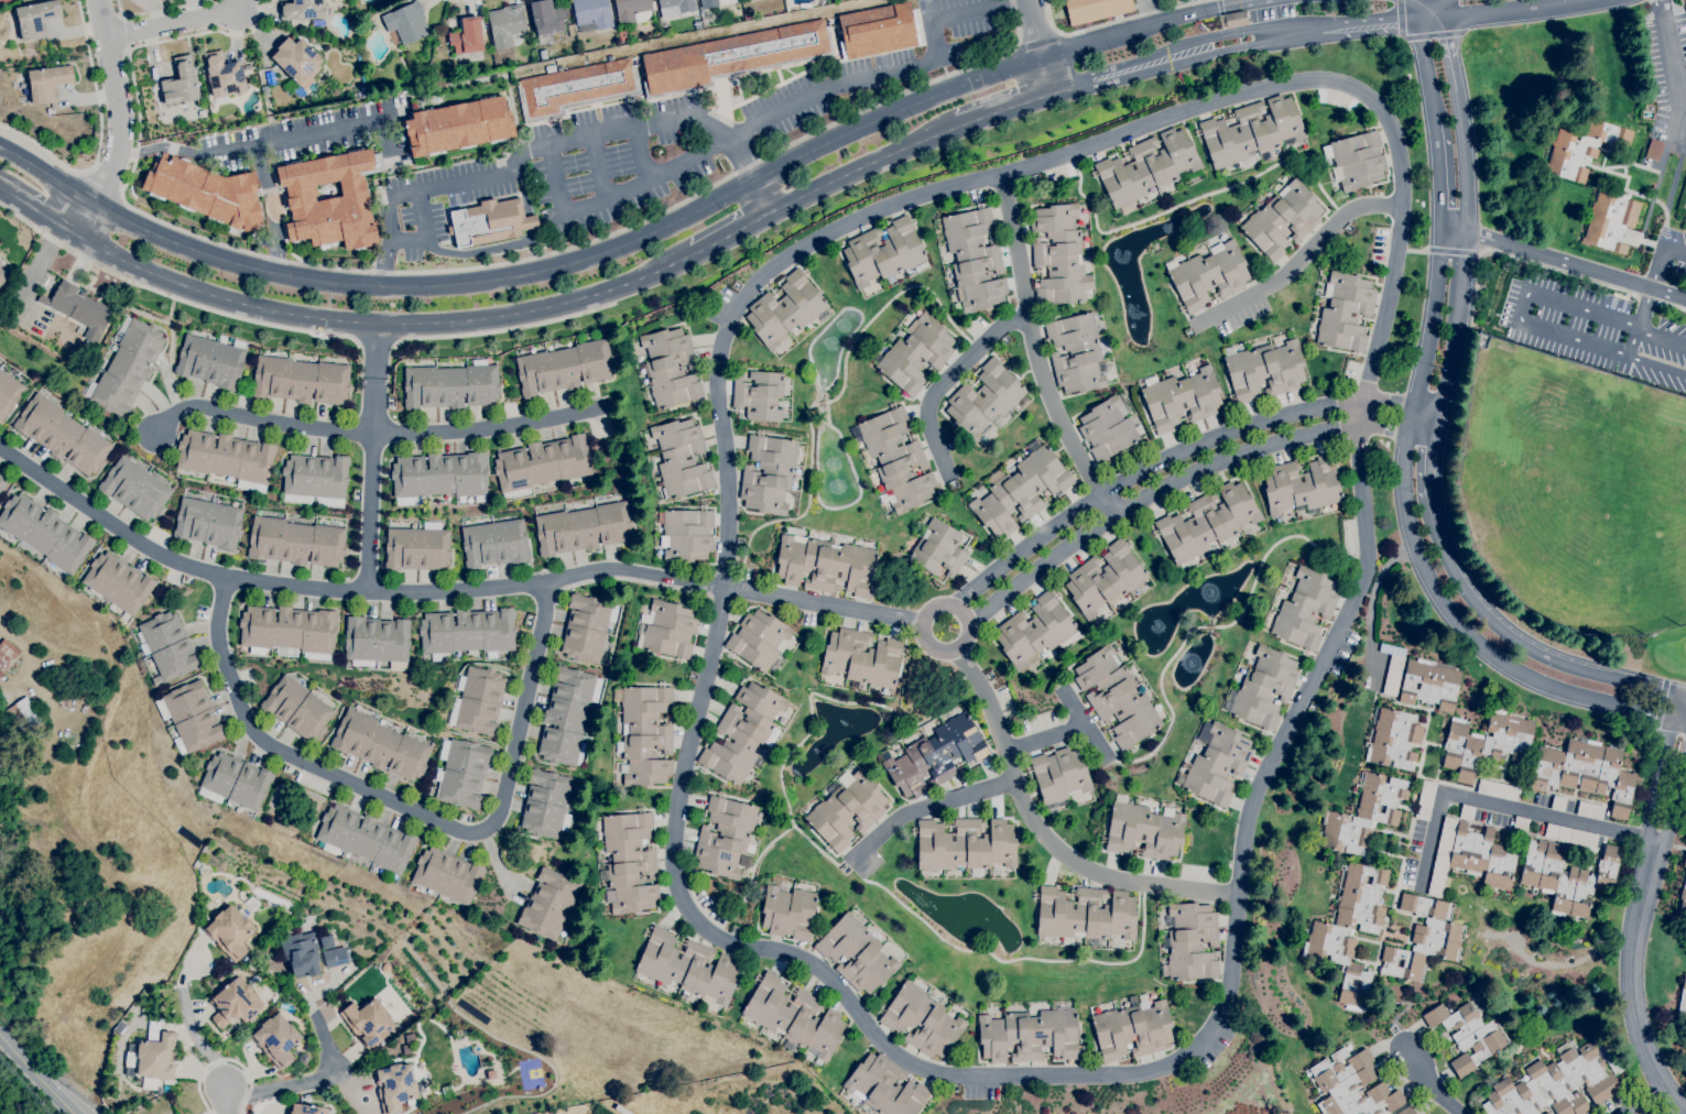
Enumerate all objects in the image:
road: (1652, 0)
building: (715, 2)
road: (1255, 3)
road: (1204, 6)
building: (675, 7)
road: (1440, 7)
building: (302, 9)
building: (1095, 9)
road: (156, 10)
building: (632, 11)
road: (1149, 12)
building: (591, 14)
road: (1418, 14)
building: (357, 15)
building: (36, 18)
building: (546, 20)
building: (1232, 20)
building: (709, 21)
building: (406, 22)
road: (172, 24)
building: (505, 24)
building: (697, 24)
road: (1098, 26)
building: (569, 30)
building: (878, 30)
road: (1034, 30)
road: (1139, 30)
building: (623, 34)
building: (467, 36)
road: (1038, 37)
building: (440, 40)
road: (1668, 56)
building: (732, 57)
road: (1142, 58)
road: (1424, 58)
road: (1451, 58)
building: (296, 63)
road: (1014, 68)
road: (889, 73)
building: (224, 75)
building: (270, 77)
road: (1044, 77)
building: (362, 78)
building: (47, 81)
building: (181, 83)
building: (411, 83)
building: (576, 88)
building: (264, 90)
building: (334, 91)
building: (48, 110)
road: (1002, 110)
road: (120, 121)
building: (457, 125)
building: (1251, 131)
road: (99, 136)
road: (298, 140)
road: (555, 143)
road: (162, 148)
building: (1581, 149)
building: (1653, 150)
road: (641, 154)
building: (1356, 160)
building: (1146, 167)
road: (598, 168)
road: (863, 168)
road: (1436, 174)
road: (102, 184)
building: (207, 192)
road: (616, 194)
building: (330, 199)
road: (274, 209)
road: (39, 211)
building: (1282, 219)
building: (489, 221)
building: (1612, 221)
road: (425, 231)
road: (731, 233)
road: (1415, 249)
road: (1450, 251)
building: (882, 252)
road: (1674, 253)
road: (1505, 254)
building: (1059, 255)
building: (973, 259)
road: (84, 260)
road: (1299, 260)
road: (1562, 262)
road: (39, 266)
road: (1460, 267)
road: (450, 269)
road: (1655, 270)
building: (1209, 275)
building: (2, 276)
road: (499, 278)
road: (1586, 280)
flagpole: (87, 288)
road: (1476, 291)
road: (170, 295)
road: (1643, 298)
building: (42, 299)
road: (1671, 305)
road: (1520, 307)
building: (81, 309)
building: (784, 309)
road: (1643, 309)
building: (1345, 313)
road: (382, 324)
road: (504, 330)
road: (1662, 336)
road: (1633, 342)
road: (374, 343)
road: (374, 350)
road: (1037, 351)
building: (1076, 352)
building: (916, 354)
building: (211, 360)
road: (1657, 365)
building: (128, 367)
building: (564, 368)
building: (670, 368)
building: (1263, 370)
road: (946, 379)
building: (301, 380)
building: (452, 385)
building: (8, 393)
building: (759, 395)
building: (1182, 398)
building: (985, 402)
building: (1107, 428)
building: (62, 435)
road: (377, 436)
road: (1177, 454)
building: (227, 458)
building: (681, 458)
building: (894, 459)
building: (542, 463)
road: (1429, 463)
road: (725, 467)
building: (768, 473)
road: (1182, 474)
building: (439, 477)
building: (315, 479)
building: (2, 483)
road: (371, 484)
building: (1302, 484)
building: (543, 488)
building: (134, 489)
building: (1020, 490)
park: (1586, 499)
building: (1207, 522)
building: (208, 523)
building: (583, 528)
building: (44, 533)
building: (685, 534)
building: (295, 542)
building: (494, 543)
building: (417, 547)
building: (938, 549)
road: (1415, 557)
building: (826, 564)
building: (1105, 579)
building: (118, 582)
road: (346, 590)
road: (823, 605)
road: (935, 607)
building: (1305, 609)
building: (586, 627)
building: (666, 629)
building: (289, 631)
building: (467, 632)
building: (1034, 632)
road: (1514, 640)
building: (759, 641)
building: (377, 642)
building: (167, 647)
building: (7, 655)
building: (861, 658)
road: (1321, 660)
building: (1392, 668)
building: (1431, 684)
building: (59, 687)
building: (1263, 688)
road: (1683, 695)
building: (1117, 697)
building: (478, 701)
building: (296, 708)
building: (18, 712)
building: (567, 714)
building: (191, 717)
building: (32, 718)
road: (1084, 724)
building: (743, 732)
building: (644, 734)
road: (1046, 739)
building: (1393, 739)
building: (1486, 743)
building: (380, 745)
building: (935, 755)
building: (1216, 764)
building: (1585, 771)
building: (461, 772)
building: (1059, 775)
building: (235, 780)
building: (36, 788)
building: (1497, 789)
building: (1425, 800)
building: (1558, 804)
building: (545, 805)
road: (1505, 806)
road: (410, 809)
road: (925, 809)
building: (847, 810)
building: (1590, 810)
building: (1466, 811)
building: (1364, 815)
building: (1521, 824)
building: (1143, 829)
road: (1044, 834)
building: (1570, 836)
building: (725, 837)
building: (365, 839)
building: (965, 845)
building: (1442, 855)
building: (1482, 856)
building: (1684, 860)
building: (628, 862)
building: (447, 875)
building: (1567, 876)
road: (1644, 894)
building: (1683, 897)
building: (548, 904)
building: (207, 905)
building: (788, 911)
building: (1085, 914)
building: (1350, 928)
building: (229, 932)
building: (1422, 939)
building: (326, 941)
building: (1192, 941)
building: (301, 953)
building: (856, 953)
building: (335, 958)
building: (687, 968)
building: (252, 979)
building: (1132, 998)
building: (235, 1003)
building: (1682, 1004)
building: (794, 1017)
building: (922, 1020)
building: (368, 1022)
road: (193, 1026)
building: (120, 1027)
building: (1132, 1029)
building: (1029, 1035)
building: (1467, 1035)
building: (148, 1036)
road: (2, 1038)
building: (276, 1039)
building: (152, 1059)
road: (222, 1060)
building: (818, 1062)
road: (39, 1079)
road: (303, 1081)
building: (1558, 1082)
road: (1428, 1083)
building: (1351, 1085)
building: (394, 1086)
building: (884, 1086)
building: (447, 1091)
road: (1676, 1100)
road: (1643, 1101)
road: (228, 1103)
building: (305, 1110)
building: (1406, 1111)
building: (1546, 1113)

